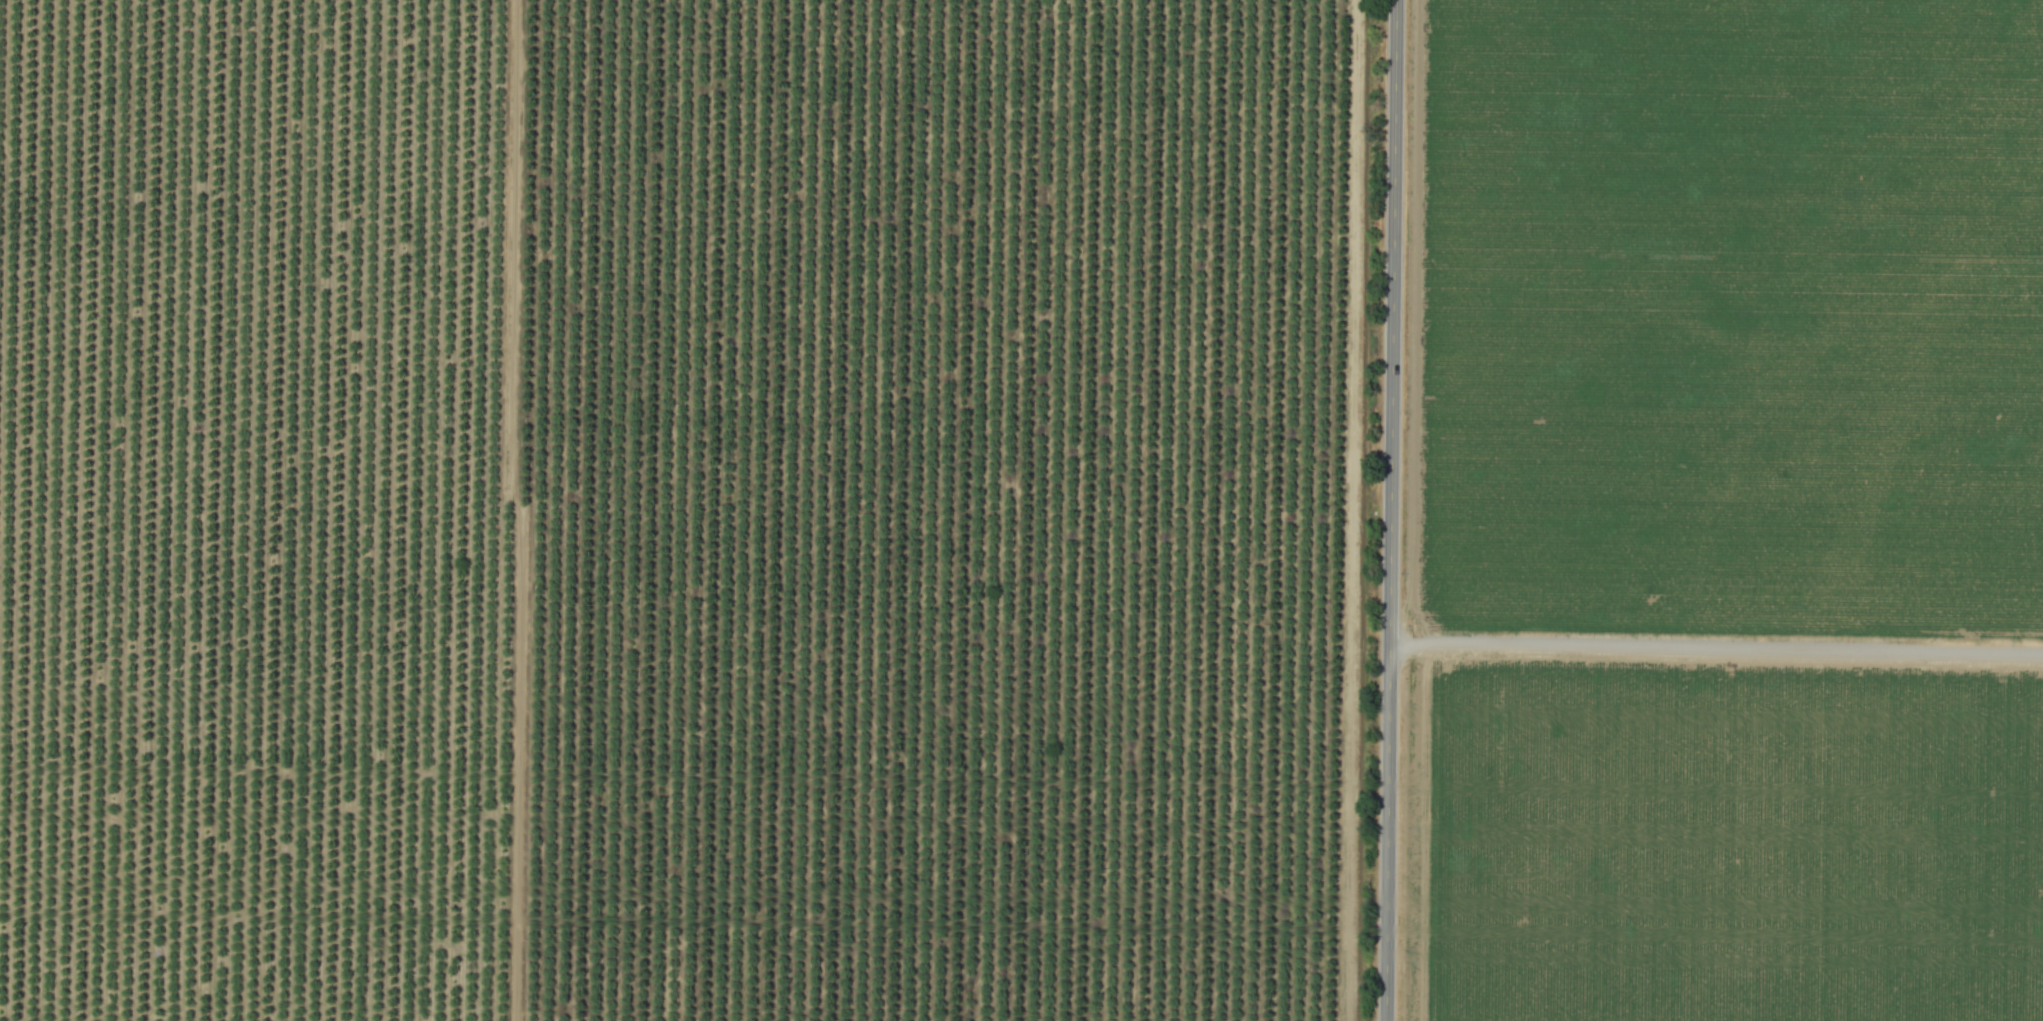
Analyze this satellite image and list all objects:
road: (1390, 510)
road: (1715, 649)

